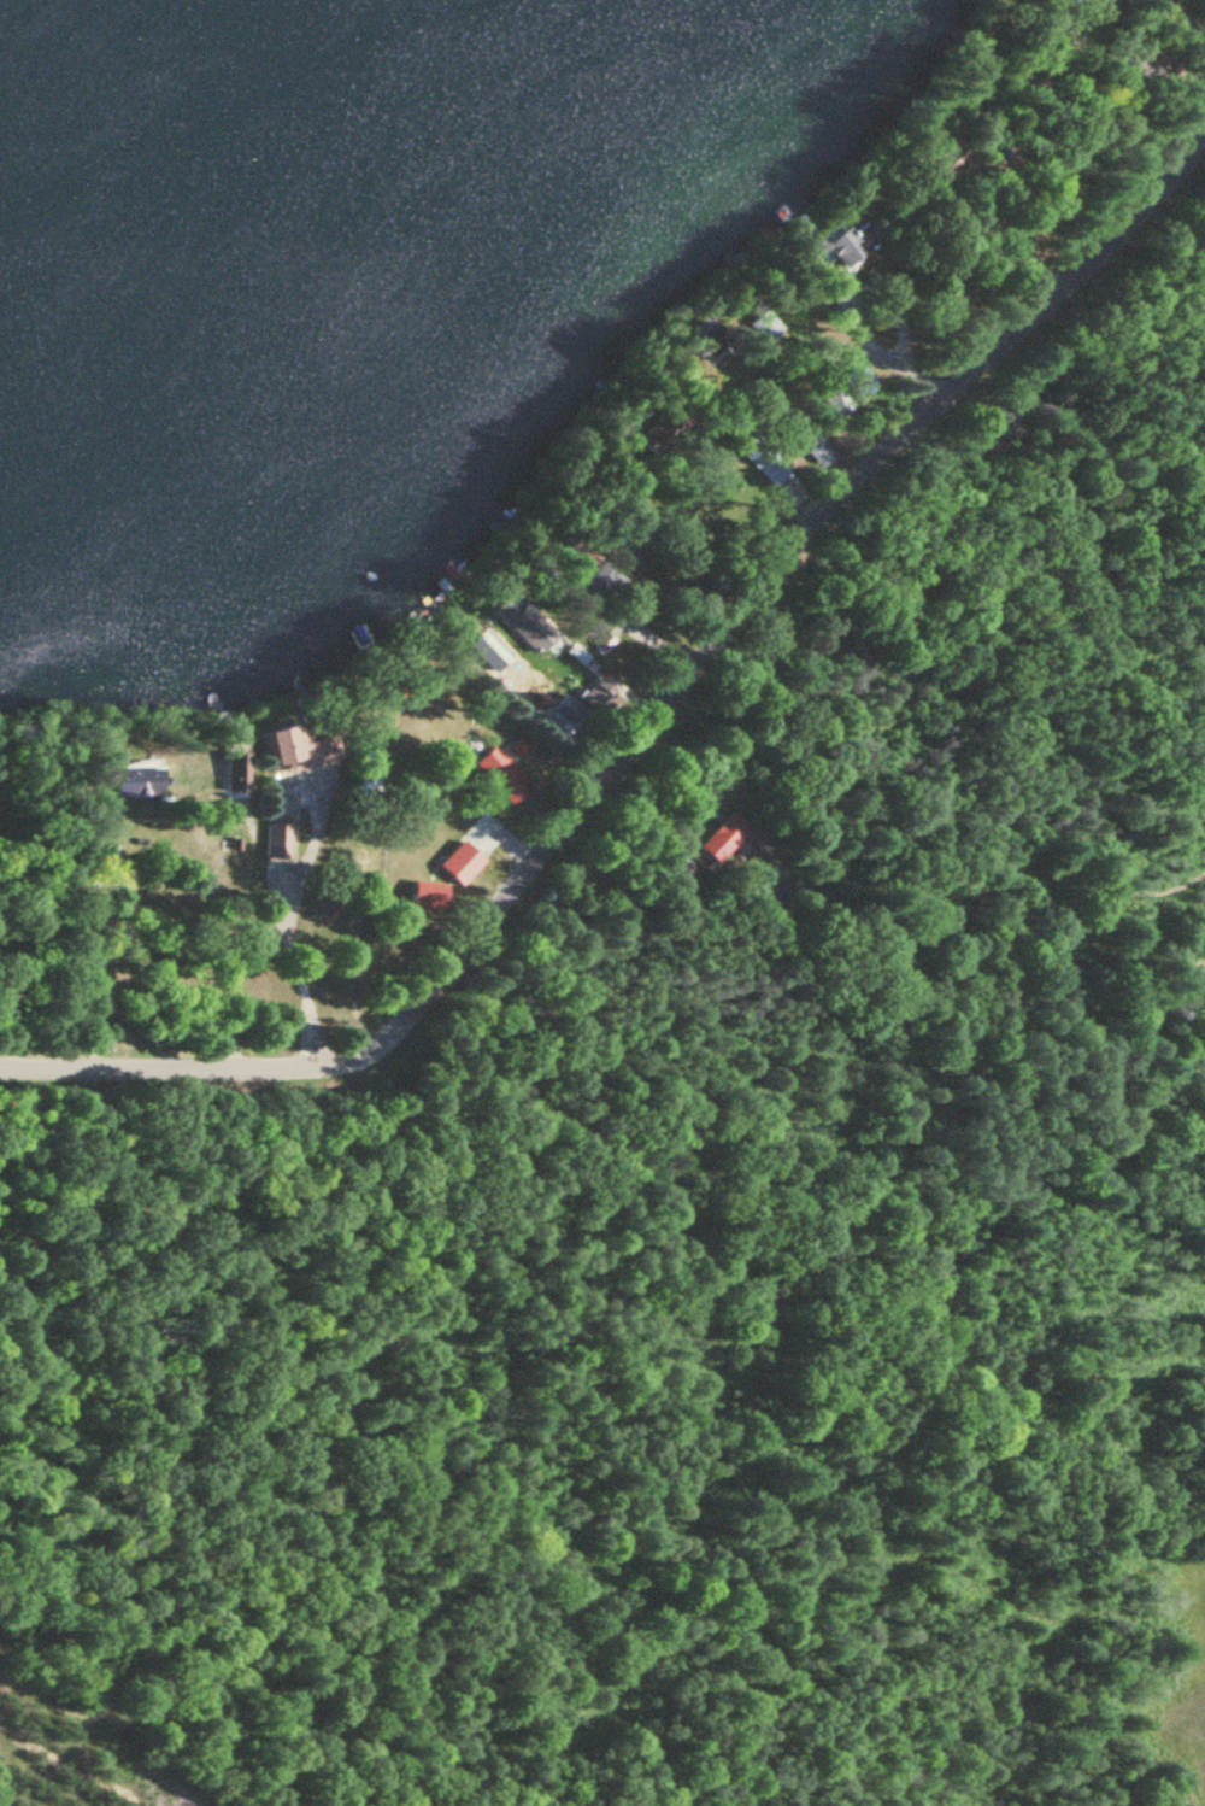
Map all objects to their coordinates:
building: (1151, 1)
road: (1125, 87)
building: (948, 158)
building: (853, 244)
building: (763, 327)
building: (858, 382)
building: (835, 403)
building: (818, 450)
building: (762, 461)
building: (598, 587)
building: (531, 629)
building: (481, 643)
building: (569, 711)
road: (648, 726)
building: (299, 750)
building: (498, 772)
building: (235, 774)
building: (137, 782)
building: (723, 838)
building: (276, 842)
building: (463, 863)
building: (429, 896)
road: (245, 937)
road: (46, 1784)

